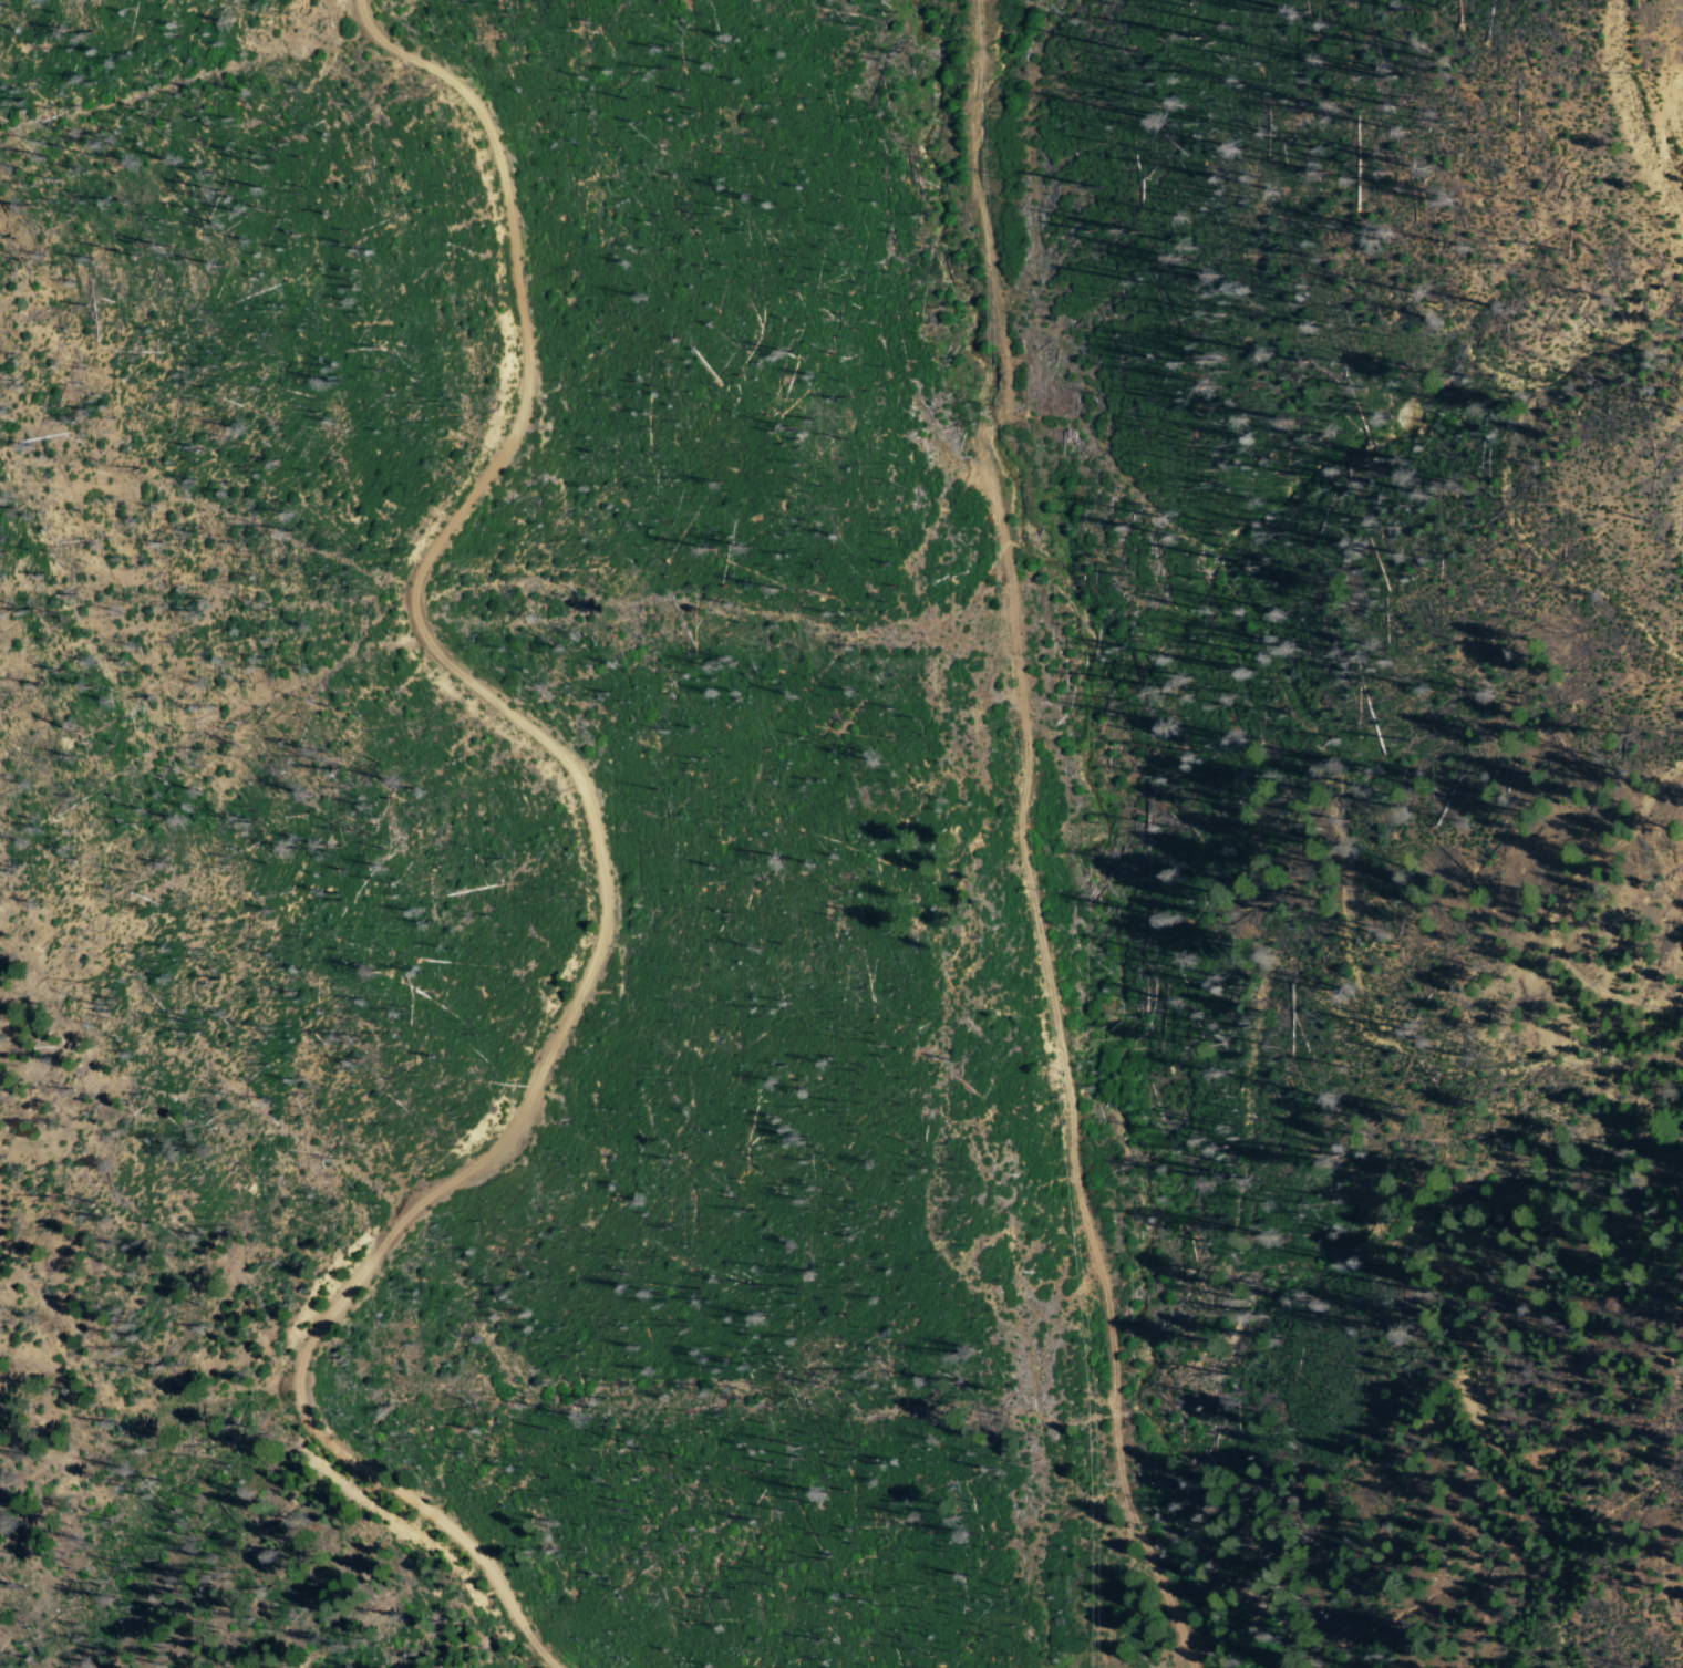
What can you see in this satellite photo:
road: (605, 860)
road: (1064, 1060)

